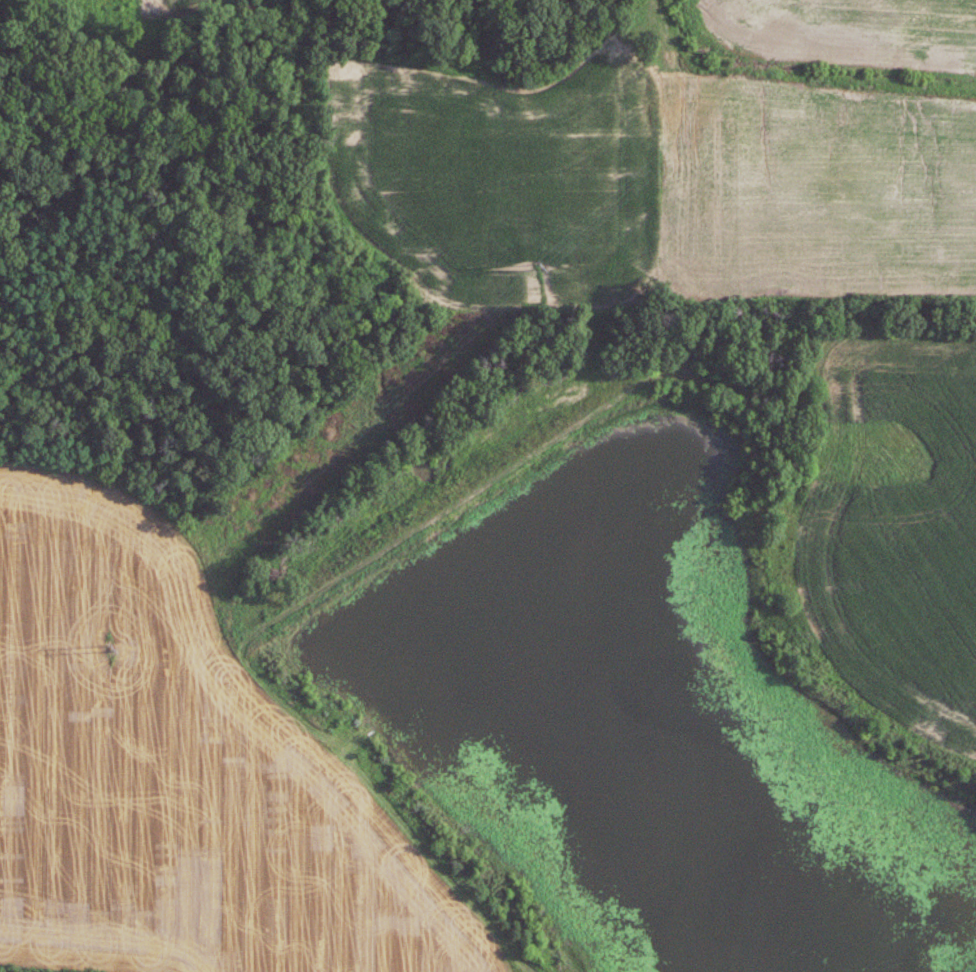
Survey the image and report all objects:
road: (663, 144)

